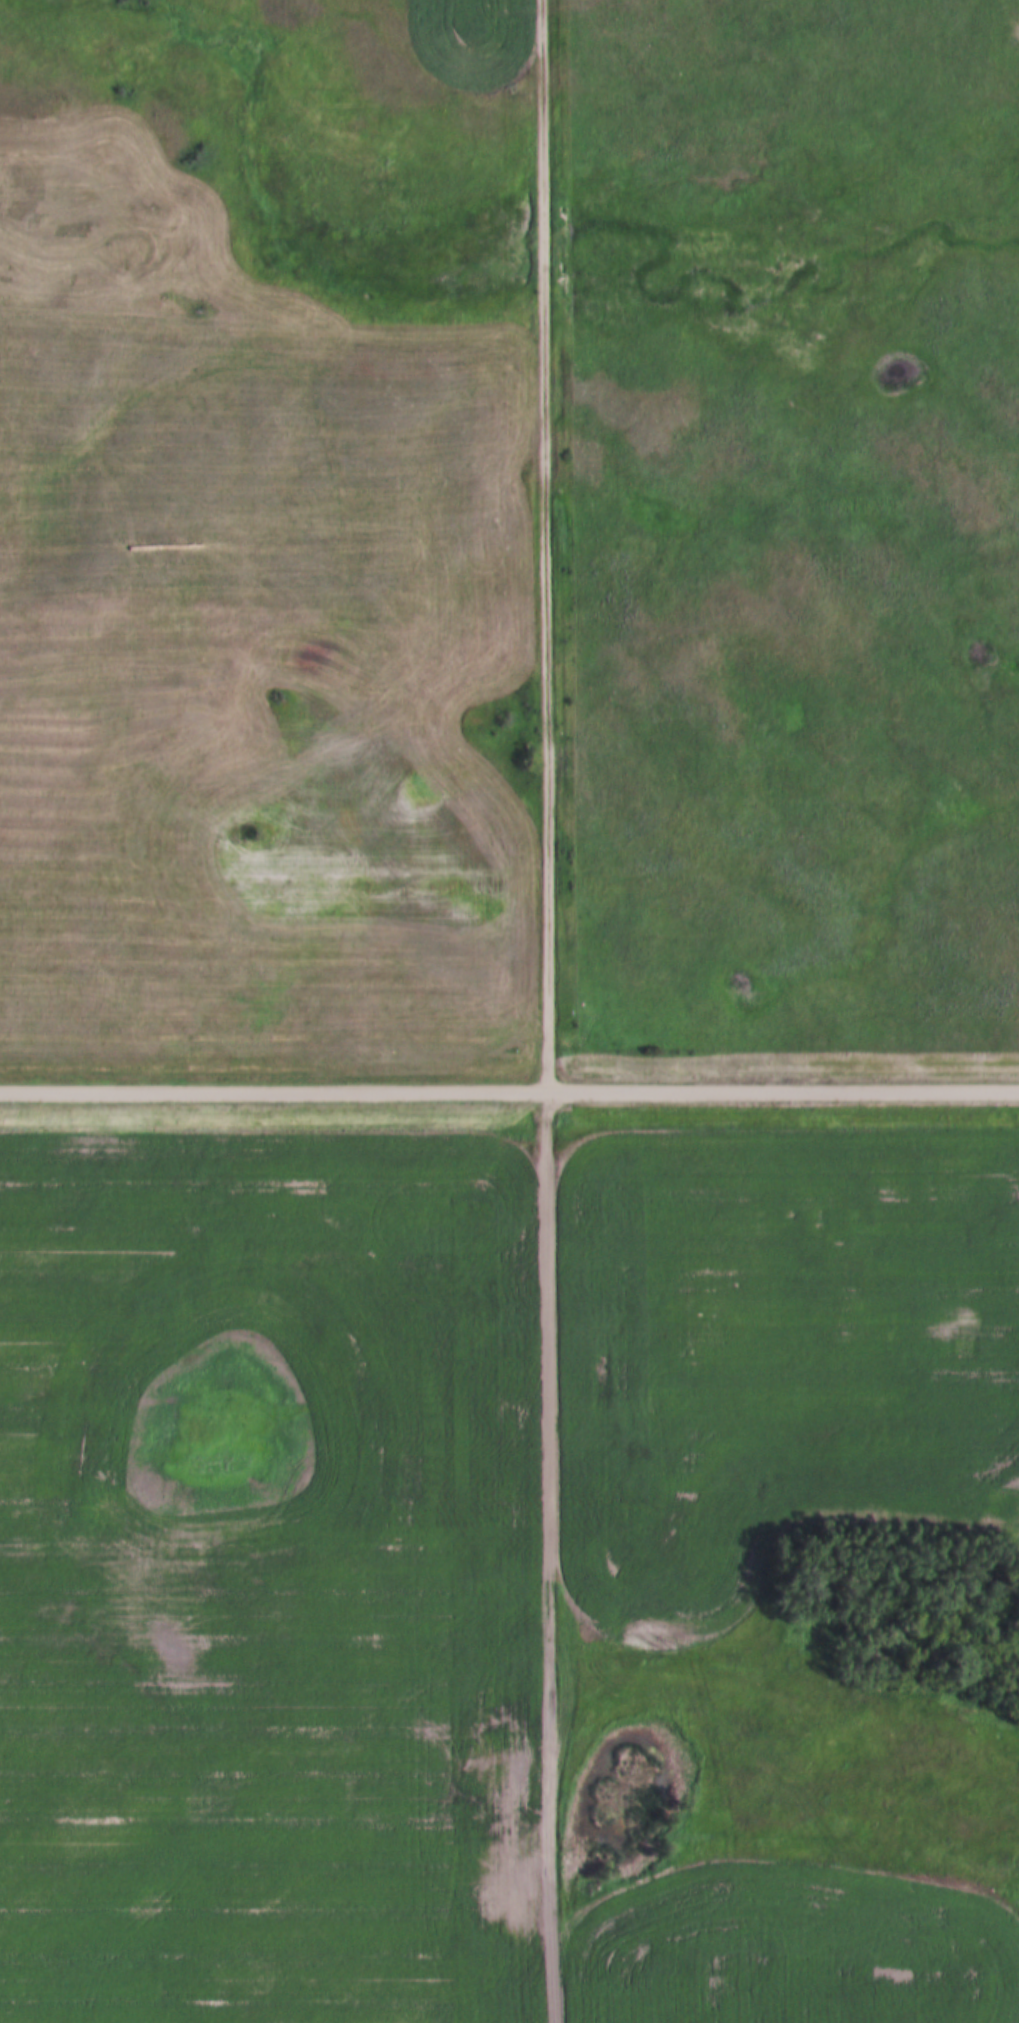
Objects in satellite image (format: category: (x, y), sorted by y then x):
road: (550, 1011)
road: (509, 1093)

